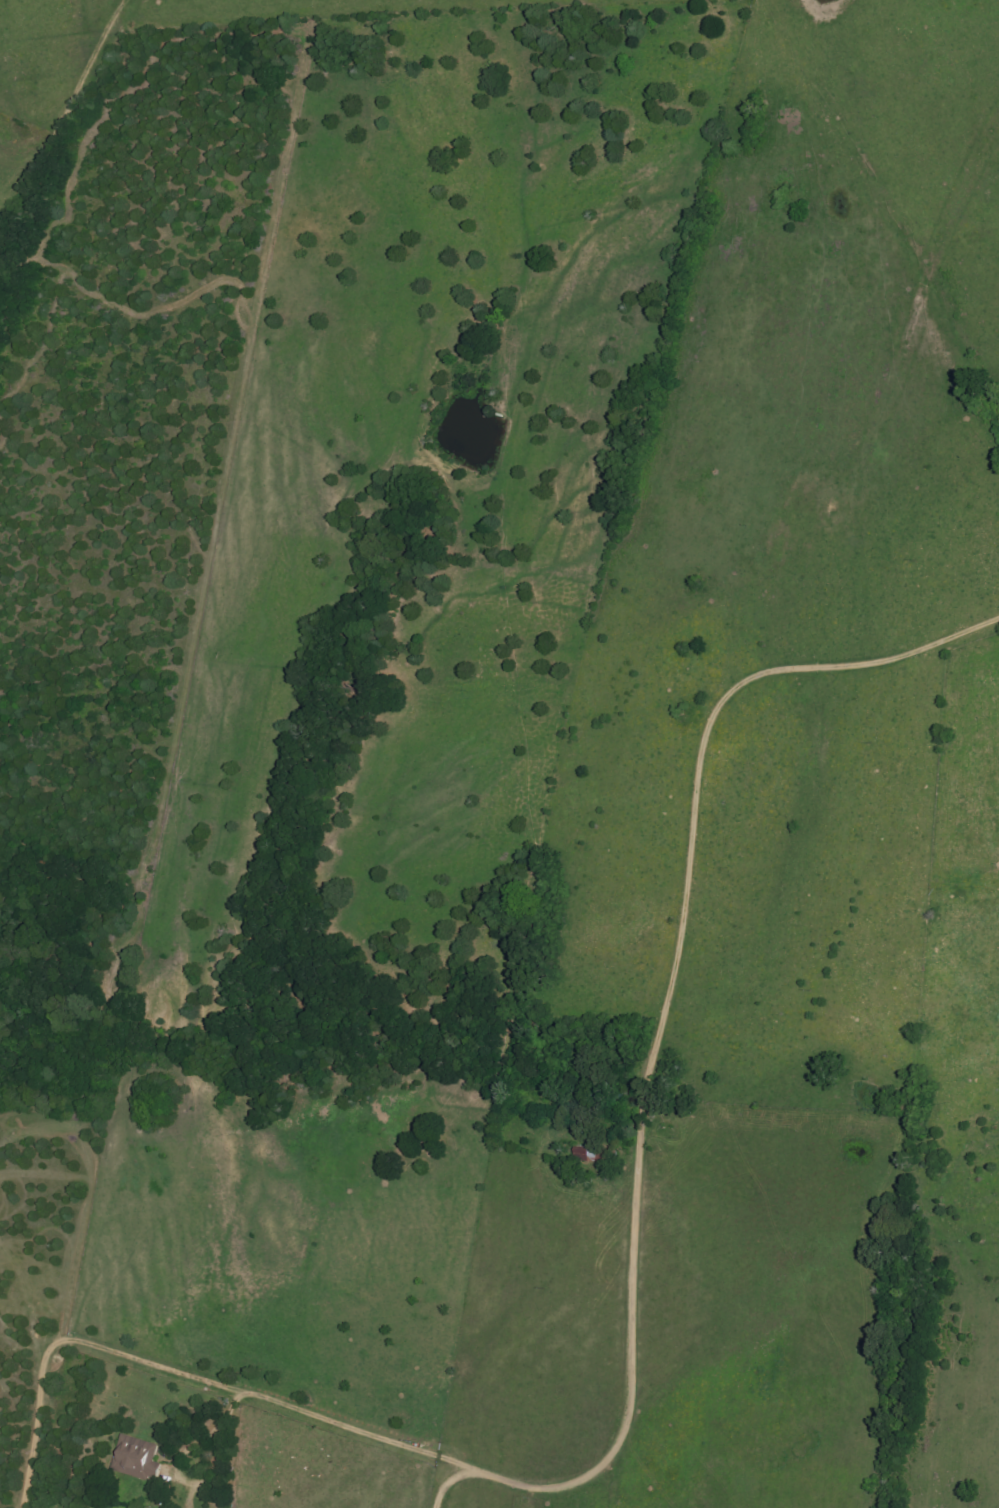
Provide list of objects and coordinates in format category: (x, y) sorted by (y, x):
building: (136, 1460)

